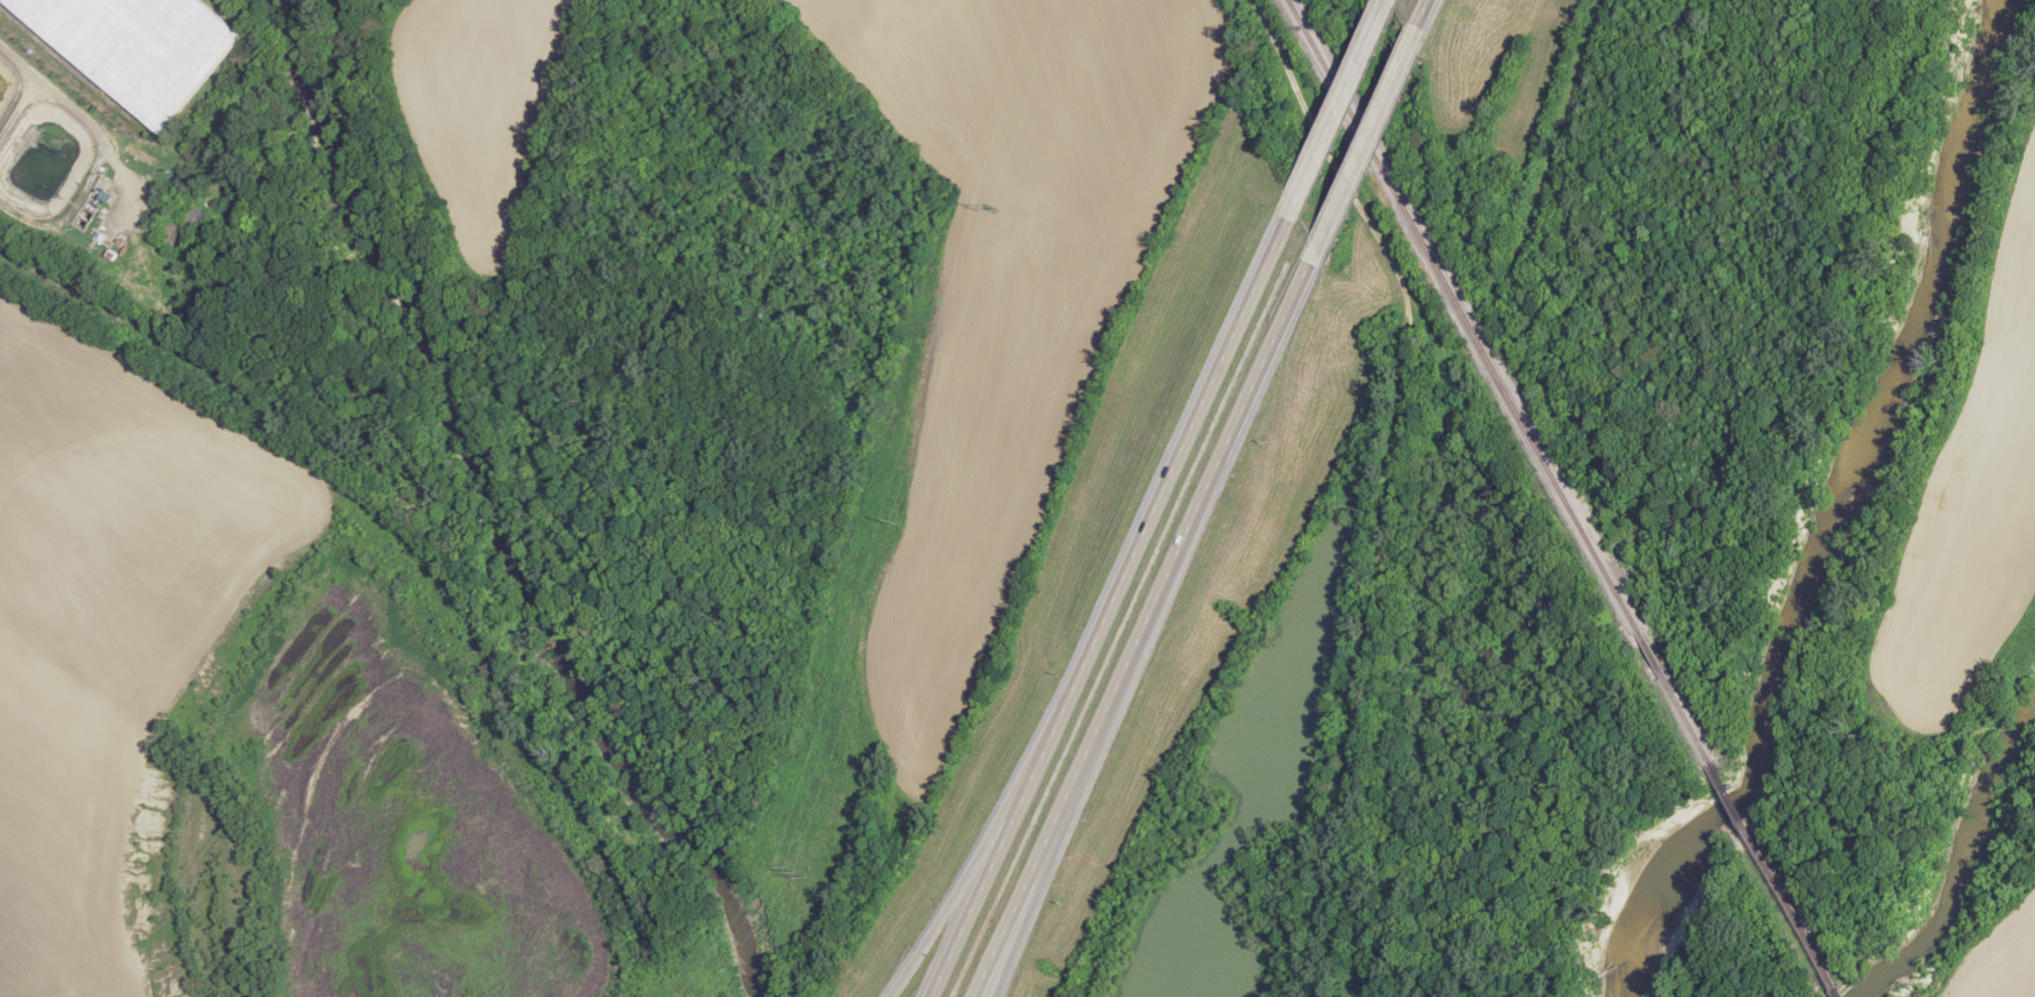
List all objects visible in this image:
road: (1429, 20)
building: (138, 46)
road: (1346, 104)
road: (84, 107)
road: (1371, 145)
power tower: (990, 205)
building: (198, 214)
railway: (1499, 381)
river: (1827, 512)
river: (487, 517)
road: (1115, 602)
road: (1148, 622)
railway: (1728, 793)
road: (973, 863)
river: (1964, 864)
power tower: (799, 874)
road: (1039, 894)
railway: (1790, 906)
railway: (1837, 992)

